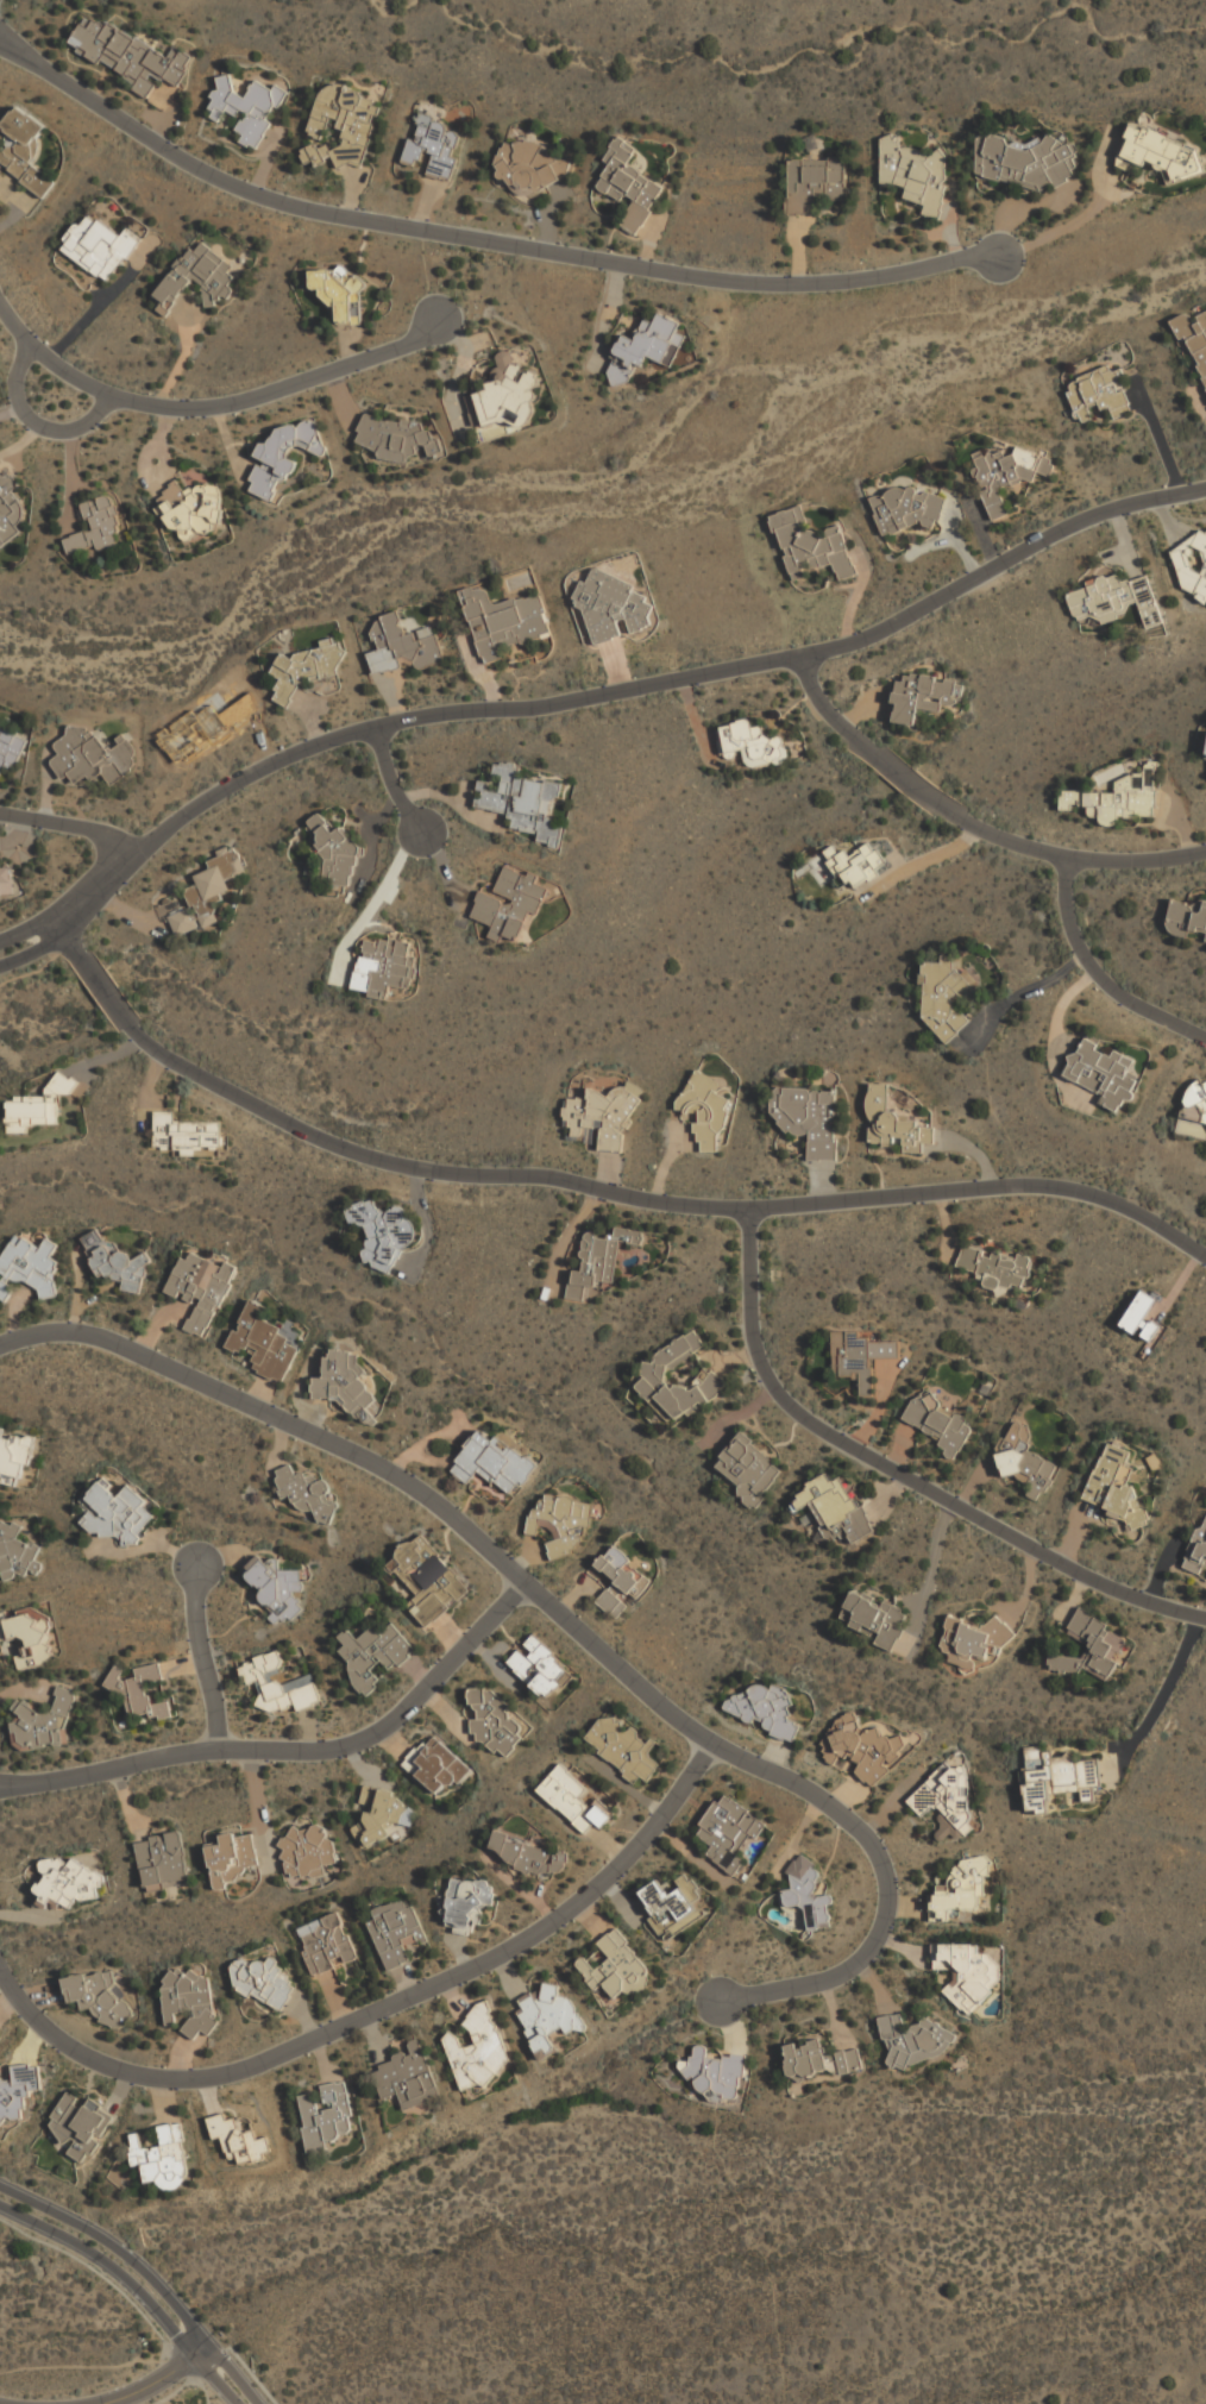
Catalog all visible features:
building: (128, 55)
building: (247, 107)
building: (343, 124)
building: (433, 146)
building: (25, 149)
building: (1162, 153)
building: (1028, 163)
building: (535, 167)
building: (916, 175)
building: (815, 182)
building: (629, 184)
road: (1079, 221)
road: (479, 238)
building: (99, 246)
building: (199, 275)
building: (340, 293)
building: (1194, 339)
building: (652, 341)
building: (1100, 394)
building: (503, 395)
road: (213, 407)
road: (37, 425)
building: (390, 437)
building: (283, 454)
building: (1007, 475)
building: (8, 507)
building: (190, 508)
building: (909, 509)
building: (96, 526)
building: (812, 545)
building: (1192, 566)
building: (1117, 602)
building: (609, 605)
building: (504, 621)
building: (402, 645)
building: (306, 666)
road: (618, 691)
building: (922, 696)
building: (752, 743)
building: (11, 748)
building: (1205, 753)
building: (92, 757)
road: (392, 784)
building: (1114, 799)
building: (523, 802)
road: (70, 822)
road: (969, 822)
building: (332, 852)
building: (852, 864)
building: (6, 883)
building: (205, 893)
building: (510, 904)
building: (1187, 918)
road: (26, 931)
road: (34, 950)
building: (384, 965)
road: (44, 966)
road: (1100, 972)
building: (946, 996)
building: (1103, 1073)
building: (38, 1106)
building: (706, 1107)
building: (1193, 1112)
building: (609, 1115)
building: (810, 1118)
building: (896, 1123)
building: (184, 1132)
road: (596, 1187)
building: (383, 1226)
building: (601, 1260)
building: (118, 1262)
building: (29, 1266)
building: (994, 1266)
building: (201, 1288)
building: (1142, 1318)
building: (264, 1343)
building: (860, 1357)
building: (658, 1375)
building: (343, 1380)
building: (941, 1424)
building: (14, 1455)
building: (1025, 1462)
building: (494, 1463)
building: (749, 1469)
road: (902, 1470)
building: (1117, 1487)
building: (306, 1493)
building: (835, 1508)
building: (118, 1514)
building: (563, 1523)
building: (1198, 1551)
building: (18, 1552)
building: (425, 1580)
building: (617, 1581)
building: (276, 1589)
building: (874, 1618)
road: (566, 1622)
building: (30, 1637)
building: (975, 1637)
building: (1093, 1647)
building: (372, 1653)
road: (205, 1656)
building: (540, 1667)
building: (278, 1684)
building: (140, 1691)
building: (767, 1709)
building: (494, 1721)
building: (43, 1724)
road: (291, 1747)
building: (623, 1747)
building: (863, 1749)
building: (435, 1765)
building: (1056, 1777)
building: (574, 1800)
building: (947, 1802)
building: (385, 1815)
building: (728, 1832)
building: (307, 1852)
building: (529, 1854)
building: (232, 1858)
building: (163, 1859)
building: (70, 1883)
building: (962, 1889)
building: (808, 1891)
building: (466, 1900)
building: (673, 1904)
building: (396, 1933)
building: (327, 1944)
building: (616, 1967)
building: (967, 1976)
building: (263, 1982)
building: (99, 1997)
building: (189, 2001)
road: (381, 2010)
building: (548, 2019)
building: (911, 2038)
building: (478, 2050)
building: (818, 2060)
building: (716, 2073)
building: (407, 2078)
building: (17, 2090)
building: (326, 2116)
building: (80, 2126)
building: (161, 2158)
road: (93, 2270)
road: (145, 2273)
road: (133, 2285)
road: (199, 2347)
road: (252, 2374)
road: (195, 2375)
road: (150, 2384)
road: (174, 2390)
road: (203, 2390)

